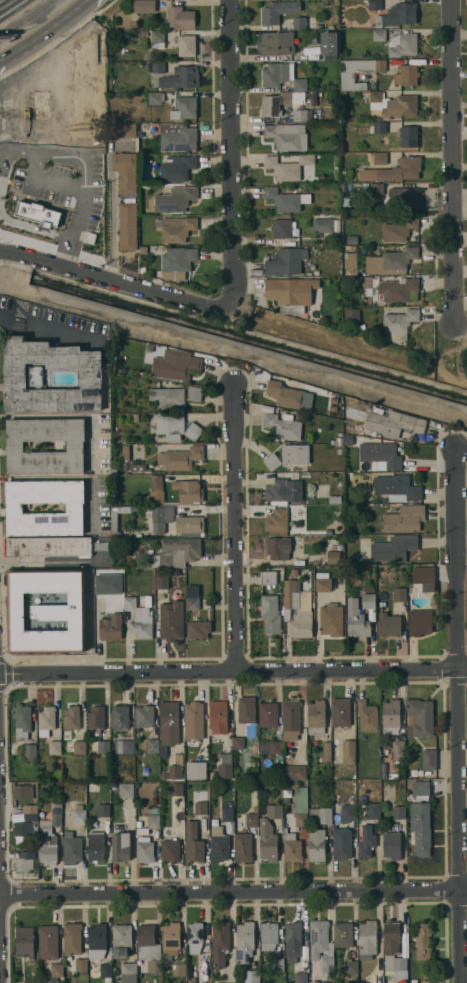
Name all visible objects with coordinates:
road: (4, 2)
building: (336, 2)
building: (143, 6)
building: (378, 7)
building: (278, 10)
building: (396, 15)
road: (69, 17)
building: (181, 17)
railway: (25, 18)
building: (303, 22)
building: (157, 27)
building: (379, 35)
building: (159, 36)
building: (277, 43)
building: (329, 43)
building: (403, 44)
building: (187, 45)
road: (23, 48)
building: (297, 64)
building: (158, 67)
building: (358, 70)
building: (277, 74)
building: (408, 74)
building: (181, 77)
building: (300, 84)
building: (89, 88)
building: (343, 94)
building: (376, 96)
building: (280, 102)
building: (334, 103)
building: (41, 104)
building: (186, 106)
building: (401, 106)
building: (302, 115)
building: (380, 127)
building: (122, 130)
building: (287, 135)
building: (178, 136)
building: (409, 136)
road: (32, 147)
road: (232, 152)
building: (377, 158)
road: (452, 161)
road: (36, 162)
building: (284, 166)
building: (177, 167)
road: (3, 169)
building: (397, 170)
building: (125, 171)
building: (346, 174)
building: (310, 176)
road: (50, 181)
building: (335, 185)
parking lot: (67, 186)
building: (403, 197)
building: (178, 198)
building: (286, 199)
road: (79, 204)
road: (111, 205)
building: (38, 213)
building: (128, 223)
building: (323, 225)
building: (283, 227)
road: (33, 228)
building: (177, 228)
building: (399, 229)
building: (352, 240)
building: (143, 250)
building: (350, 260)
building: (285, 261)
building: (391, 261)
building: (177, 262)
building: (143, 269)
river: (16, 270)
road: (116, 281)
building: (394, 288)
building: (290, 293)
building: (351, 314)
building: (398, 324)
road: (51, 330)
river: (250, 337)
building: (178, 364)
building: (15, 377)
building: (285, 394)
building: (175, 396)
building: (335, 400)
building: (333, 408)
building: (136, 418)
building: (394, 423)
building: (284, 426)
building: (177, 427)
building: (349, 440)
building: (15, 446)
building: (381, 454)
building: (288, 456)
building: (126, 457)
building: (181, 458)
building: (140, 468)
building: (114, 470)
building: (185, 477)
building: (157, 482)
building: (397, 488)
building: (189, 491)
building: (284, 491)
building: (335, 499)
building: (15, 505)
building: (162, 517)
building: (405, 519)
building: (278, 522)
building: (299, 523)
building: (115, 524)
building: (192, 525)
road: (234, 527)
building: (312, 530)
building: (48, 547)
building: (278, 548)
building: (394, 548)
building: (176, 552)
building: (334, 557)
building: (424, 574)
building: (268, 579)
building: (162, 581)
building: (323, 581)
building: (370, 588)
building: (400, 594)
building: (369, 600)
building: (193, 603)
building: (100, 604)
building: (299, 608)
building: (47, 611)
building: (271, 615)
building: (140, 619)
building: (357, 619)
building: (172, 620)
building: (332, 620)
building: (420, 622)
building: (389, 625)
building: (111, 627)
building: (199, 628)
road: (233, 671)
building: (247, 710)
building: (341, 712)
building: (194, 714)
building: (268, 714)
building: (391, 714)
building: (145, 716)
building: (367, 716)
road: (460, 716)
building: (72, 717)
building: (121, 717)
building: (218, 717)
building: (317, 717)
building: (420, 717)
building: (96, 718)
building: (291, 719)
building: (23, 721)
building: (47, 721)
building: (170, 722)
building: (250, 726)
building: (64, 733)
building: (239, 743)
building: (104, 746)
building: (125, 746)
building: (153, 746)
building: (55, 747)
building: (80, 747)
building: (270, 747)
building: (201, 748)
building: (165, 750)
building: (399, 750)
building: (30, 751)
building: (290, 751)
building: (327, 751)
building: (349, 751)
building: (430, 759)
building: (176, 767)
building: (197, 770)
building: (225, 771)
building: (295, 772)
building: (335, 773)
building: (384, 775)
building: (394, 775)
building: (164, 776)
building: (254, 788)
building: (176, 789)
building: (421, 789)
building: (127, 790)
building: (23, 792)
building: (287, 795)
building: (301, 799)
building: (30, 808)
building: (201, 808)
building: (255, 809)
building: (104, 810)
building: (263, 810)
building: (227, 811)
building: (275, 811)
building: (349, 811)
building: (373, 811)
building: (400, 812)
building: (57, 813)
building: (79, 814)
building: (320, 815)
building: (30, 817)
building: (301, 819)
building: (154, 820)
building: (252, 820)
building: (23, 829)
building: (421, 829)
building: (217, 830)
building: (290, 836)
building: (268, 840)
building: (366, 842)
building: (194, 843)
building: (342, 843)
building: (96, 845)
building: (317, 845)
building: (392, 845)
building: (48, 846)
building: (122, 846)
building: (243, 847)
building: (72, 848)
building: (220, 848)
building: (145, 850)
building: (171, 850)
building: (293, 850)
building: (25, 861)
road: (233, 889)
building: (269, 935)
building: (343, 935)
building: (195, 937)
building: (73, 938)
building: (367, 939)
building: (98, 940)
building: (122, 940)
building: (171, 940)
building: (25, 941)
building: (245, 941)
building: (293, 941)
building: (423, 941)
building: (49, 942)
building: (148, 943)
building: (220, 944)
building: (321, 944)
building: (393, 947)
building: (278, 964)
building: (81, 965)
building: (154, 966)
building: (351, 967)
building: (179, 969)
building: (57, 970)
building: (106, 972)
building: (129, 972)
building: (327, 974)
building: (400, 974)
building: (190, 976)
building: (252, 976)
building: (301, 977)
building: (429, 981)
building: (314, 982)
building: (321, 982)

